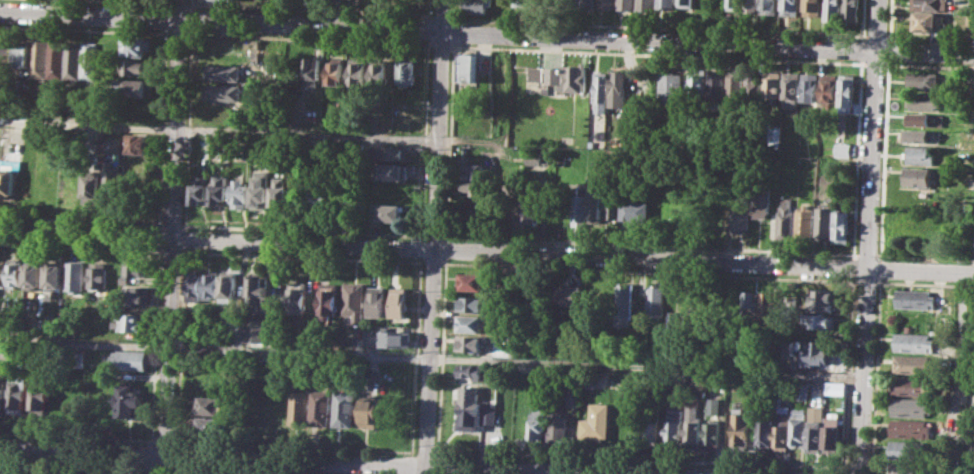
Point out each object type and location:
building: (228, 0)
road: (140, 1)
road: (180, 3)
building: (523, 3)
building: (687, 3)
road: (193, 4)
building: (606, 4)
building: (626, 4)
building: (667, 4)
building: (734, 4)
building: (927, 4)
building: (588, 5)
building: (647, 5)
building: (750, 5)
building: (477, 6)
building: (770, 6)
building: (791, 7)
building: (812, 7)
road: (311, 9)
road: (430, 9)
road: (455, 9)
building: (832, 9)
building: (851, 10)
road: (442, 16)
road: (192, 19)
road: (861, 19)
road: (887, 21)
building: (927, 21)
building: (969, 23)
road: (656, 26)
road: (430, 29)
road: (86, 30)
road: (455, 31)
road: (486, 32)
road: (180, 34)
road: (310, 39)
building: (137, 45)
road: (442, 45)
road: (860, 49)
road: (886, 49)
building: (23, 54)
road: (657, 54)
building: (6, 58)
building: (39, 58)
building: (56, 58)
building: (72, 60)
building: (91, 60)
road: (873, 63)
road: (928, 65)
building: (138, 66)
building: (469, 67)
building: (407, 69)
building: (312, 71)
building: (335, 71)
building: (357, 71)
building: (225, 72)
building: (535, 73)
building: (379, 74)
building: (502, 74)
building: (569, 77)
building: (921, 80)
building: (698, 83)
building: (970, 83)
building: (772, 84)
building: (754, 85)
building: (736, 86)
building: (137, 87)
building: (718, 87)
building: (828, 87)
building: (618, 88)
building: (808, 88)
building: (672, 89)
building: (791, 90)
building: (601, 91)
building: (223, 92)
building: (846, 92)
building: (921, 100)
building: (136, 108)
building: (224, 112)
building: (923, 119)
building: (404, 122)
road: (188, 130)
road: (218, 130)
building: (920, 135)
road: (425, 139)
road: (450, 142)
building: (141, 143)
building: (114, 144)
building: (843, 149)
building: (388, 152)
building: (917, 154)
building: (532, 156)
road: (856, 158)
road: (882, 158)
building: (392, 171)
building: (474, 171)
building: (914, 174)
building: (113, 180)
building: (7, 182)
building: (71, 185)
building: (93, 187)
building: (202, 189)
building: (261, 189)
building: (471, 189)
building: (221, 191)
building: (240, 193)
building: (280, 194)
building: (322, 197)
building: (760, 202)
building: (611, 204)
building: (578, 205)
building: (595, 207)
building: (633, 207)
building: (392, 212)
building: (719, 213)
building: (528, 214)
building: (740, 214)
building: (785, 219)
road: (82, 220)
building: (823, 221)
building: (804, 222)
road: (171, 224)
building: (841, 226)
road: (303, 229)
road: (433, 235)
road: (172, 237)
road: (434, 237)
road: (866, 237)
road: (184, 238)
road: (649, 244)
road: (81, 246)
road: (421, 247)
road: (432, 248)
road: (446, 248)
road: (171, 250)
road: (866, 254)
road: (302, 256)
road: (924, 256)
road: (432, 262)
building: (137, 266)
road: (852, 267)
road: (878, 268)
road: (919, 269)
road: (648, 271)
building: (2, 273)
building: (15, 273)
building: (32, 274)
building: (74, 276)
building: (97, 276)
building: (54, 277)
building: (125, 280)
building: (472, 281)
road: (864, 281)
road: (923, 283)
building: (196, 285)
building: (507, 285)
building: (213, 287)
building: (229, 287)
building: (258, 291)
building: (534, 293)
building: (138, 295)
building: (570, 295)
building: (297, 297)
building: (823, 299)
building: (915, 299)
building: (328, 300)
building: (355, 300)
building: (377, 301)
building: (627, 301)
building: (656, 301)
building: (397, 302)
building: (472, 302)
building: (750, 305)
building: (770, 307)
building: (0, 321)
building: (674, 321)
building: (133, 322)
building: (690, 322)
building: (820, 322)
building: (471, 323)
building: (257, 330)
building: (394, 337)
building: (914, 342)
building: (470, 343)
road: (179, 345)
building: (819, 351)
road: (417, 354)
road: (431, 357)
road: (443, 357)
building: (77, 358)
building: (129, 359)
building: (912, 363)
building: (469, 370)
road: (848, 370)
road: (960, 372)
road: (874, 375)
building: (593, 379)
building: (214, 384)
building: (911, 385)
building: (834, 387)
building: (2, 388)
building: (18, 392)
building: (573, 393)
building: (39, 396)
building: (128, 400)
building: (469, 402)
building: (213, 405)
building: (712, 405)
building: (300, 407)
building: (323, 407)
building: (346, 407)
building: (910, 407)
building: (369, 410)
building: (488, 413)
building: (595, 421)
building: (536, 422)
building: (518, 424)
building: (556, 424)
building: (212, 426)
building: (692, 426)
building: (740, 427)
building: (814, 427)
building: (798, 428)
building: (910, 428)
building: (782, 430)
building: (651, 431)
building: (765, 431)
building: (673, 432)
building: (712, 434)
road: (78, 435)
building: (832, 436)
road: (164, 439)
road: (292, 445)
building: (908, 450)
road: (174, 456)
road: (644, 458)
road: (320, 460)
road: (412, 463)
road: (76, 464)
road: (438, 465)
road: (162, 468)
building: (907, 468)
road: (173, 470)
road: (226, 471)
building: (129, 473)
road: (843, 473)

